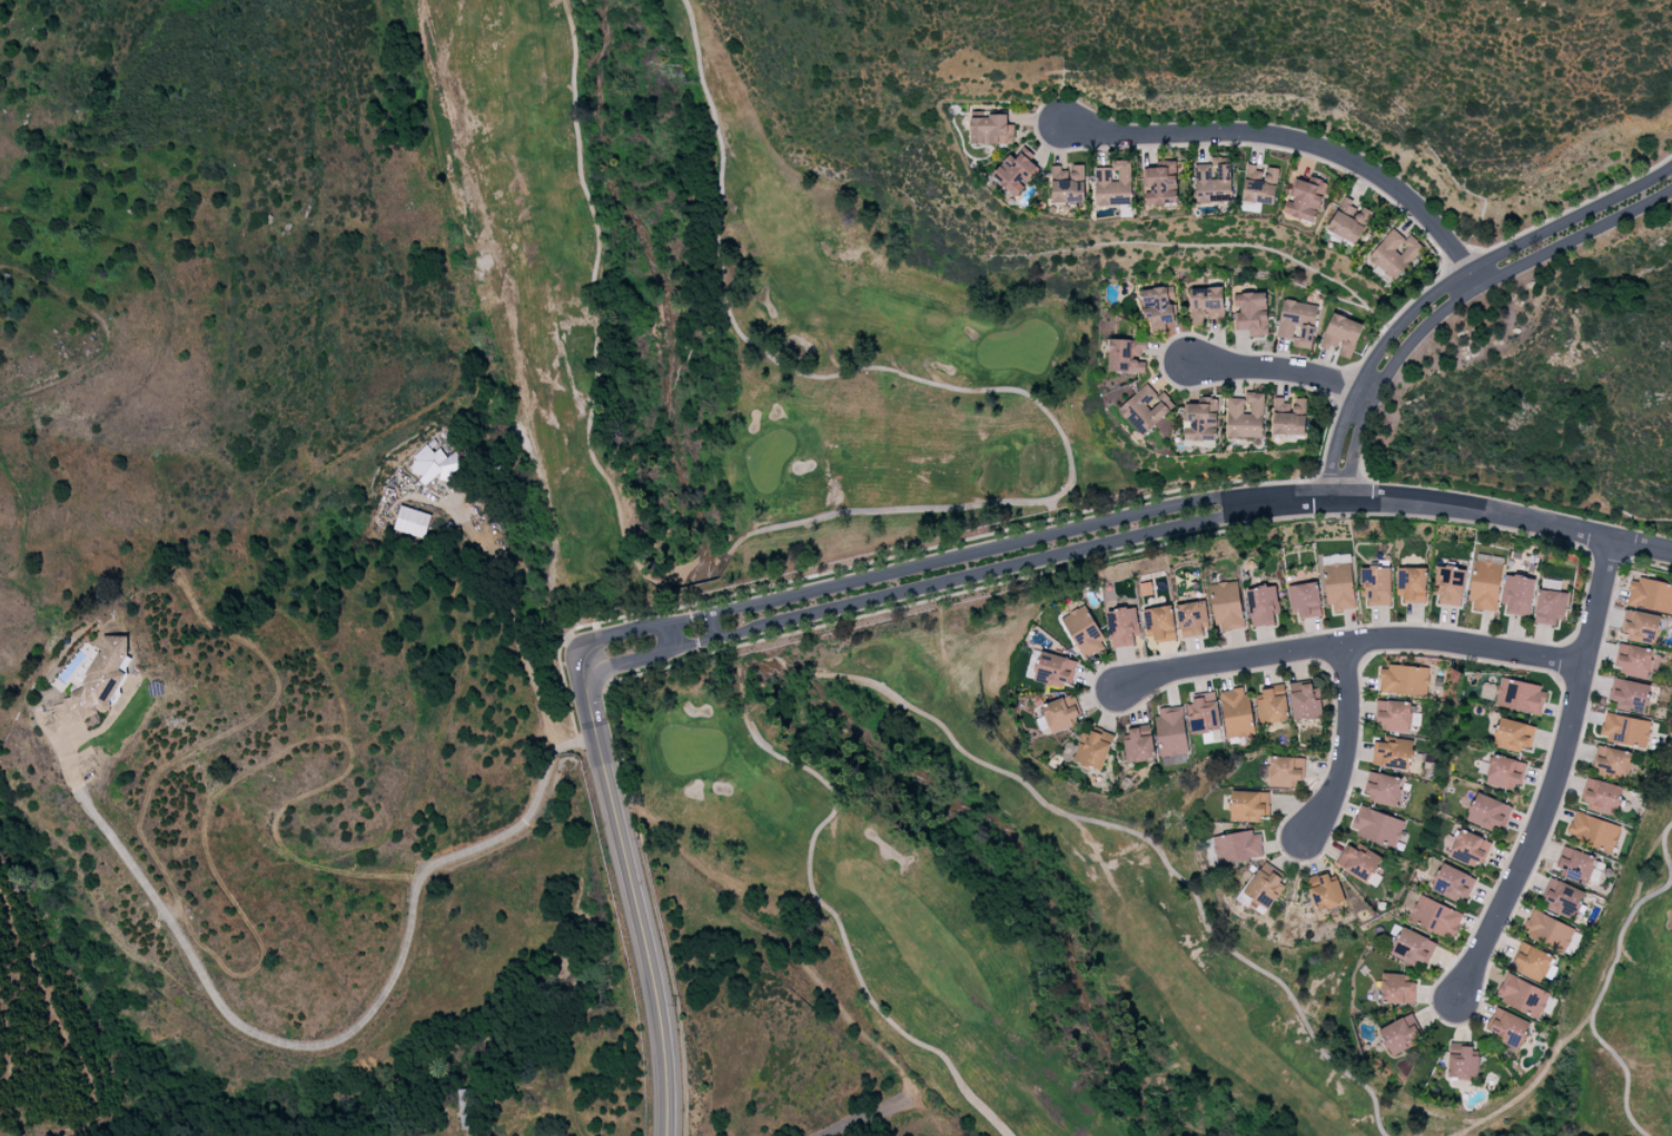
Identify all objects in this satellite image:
building: (990, 129)
road: (1298, 141)
building: (1016, 170)
building: (1213, 180)
building: (1068, 184)
building: (1114, 184)
building: (1159, 184)
building: (1259, 185)
building: (1305, 198)
road: (1571, 215)
building: (1348, 220)
road: (1576, 234)
building: (1394, 253)
building: (1206, 305)
building: (1157, 307)
building: (1250, 313)
building: (1297, 323)
building: (1342, 335)
building: (1126, 355)
road: (1367, 365)
road: (1283, 369)
road: (1385, 375)
building: (1145, 408)
building: (1245, 415)
building: (1289, 416)
building: (1199, 423)
building: (434, 465)
building: (412, 522)
road: (1122, 529)
road: (553, 550)
building: (1411, 584)
building: (1375, 585)
building: (1448, 585)
building: (1338, 586)
building: (1484, 586)
building: (1517, 594)
building: (1650, 594)
building: (1304, 600)
building: (1262, 604)
building: (1226, 605)
building: (1550, 606)
building: (1191, 618)
park: (891, 621)
building: (1158, 623)
building: (1121, 626)
building: (1641, 626)
building: (1084, 632)
road: (1351, 643)
road: (521, 651)
building: (1633, 661)
building: (1055, 670)
building: (1403, 680)
building: (96, 684)
building: (1520, 695)
building: (1629, 695)
building: (1304, 700)
building: (1272, 704)
building: (1236, 712)
building: (1203, 713)
building: (1393, 715)
building: (1624, 730)
building: (1170, 731)
building: (1513, 737)
building: (1139, 743)
road: (1347, 747)
building: (1094, 749)
building: (1392, 753)
building: (1611, 761)
building: (1284, 770)
building: (1504, 772)
road: (1559, 777)
building: (1382, 788)
building: (1601, 796)
building: (1248, 806)
building: (1487, 812)
building: (1377, 826)
building: (1593, 831)
building: (1237, 847)
building: (1470, 848)
building: (1358, 861)
building: (1574, 863)
building: (1453, 883)
building: (1263, 887)
building: (1325, 891)
road: (632, 896)
building: (1561, 898)
building: (1434, 916)
building: (1549, 931)
building: (1412, 947)
building: (1531, 962)
building: (1396, 989)
building: (1523, 996)
building: (1506, 1027)
road: (342, 1028)
building: (1399, 1035)
building: (1462, 1061)
building: (464, 1108)
road: (862, 1113)

